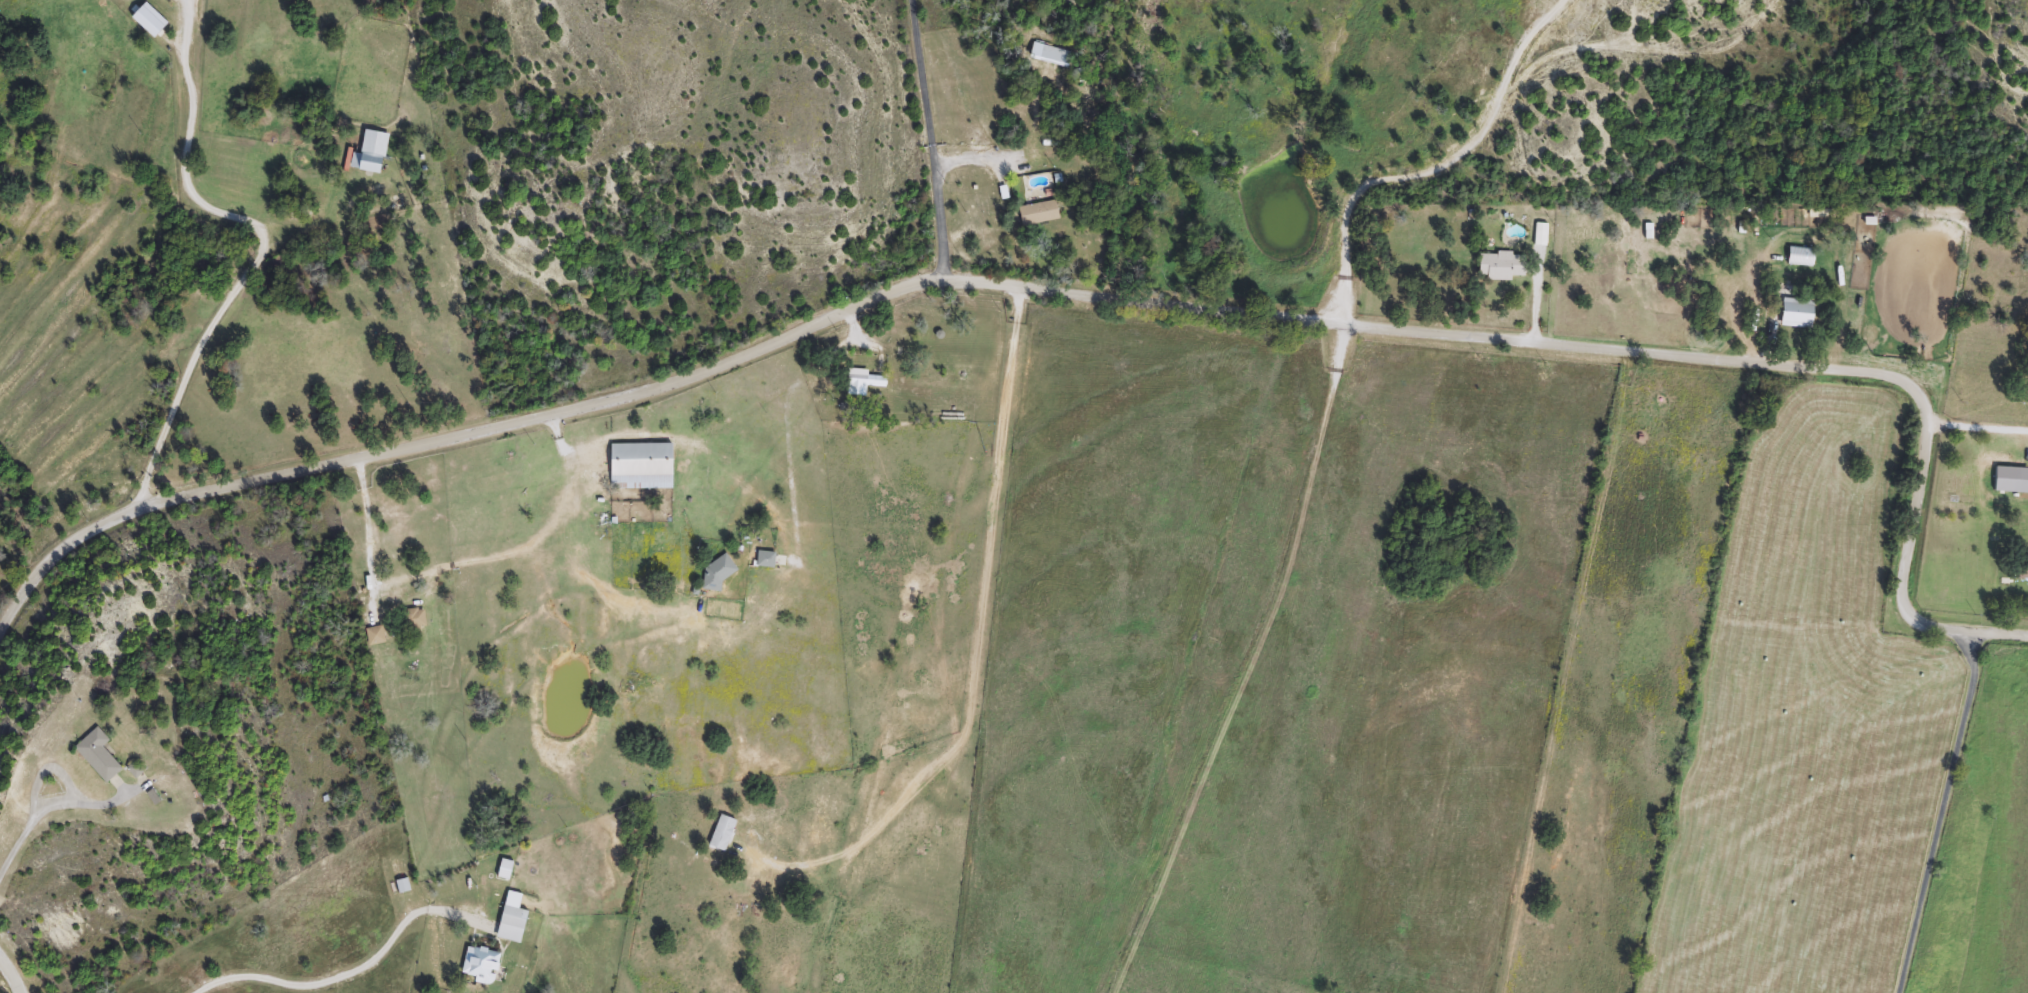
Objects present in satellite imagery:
building: (1051, 57)
road: (927, 141)
building: (374, 154)
road: (1427, 165)
building: (1034, 214)
road: (263, 244)
building: (1497, 266)
road: (1096, 294)
building: (1793, 313)
building: (860, 381)
road: (1979, 435)
building: (638, 467)
building: (763, 560)
road: (462, 561)
building: (2020, 566)
building: (715, 572)
building: (415, 621)
building: (379, 637)
road: (975, 638)
building: (100, 755)
road: (39, 800)
road: (1942, 813)
building: (510, 918)
building: (479, 963)
road: (13, 974)
road: (347, 975)

